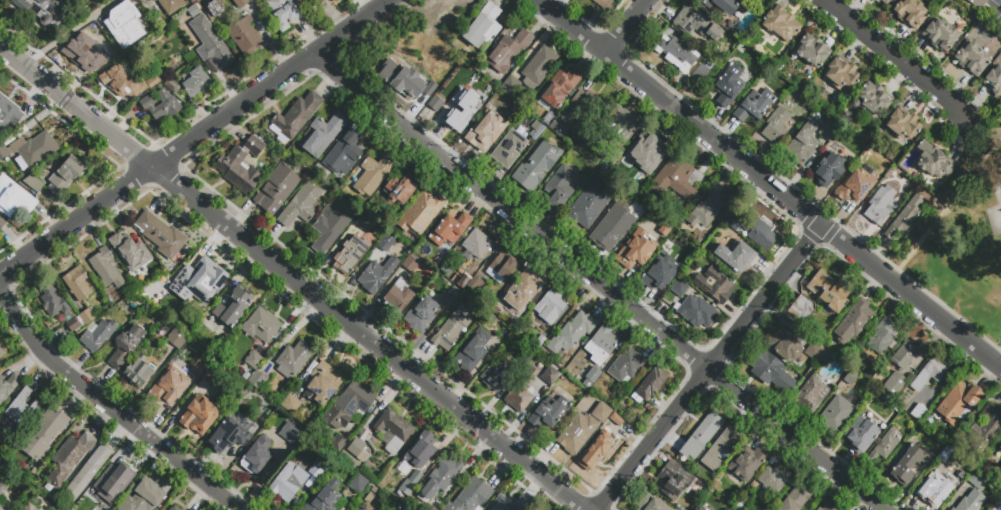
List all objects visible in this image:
building: (300, 0)
building: (744, 0)
building: (876, 1)
building: (882, 1)
building: (886, 2)
building: (240, 3)
building: (312, 4)
building: (602, 4)
building: (975, 4)
building: (170, 5)
building: (721, 5)
building: (34, 10)
building: (214, 10)
building: (283, 13)
building: (909, 13)
building: (781, 23)
building: (123, 24)
building: (696, 24)
building: (483, 26)
road: (626, 26)
road: (68, 33)
building: (939, 35)
building: (246, 37)
building: (210, 46)
building: (95, 48)
building: (508, 51)
building: (811, 52)
building: (677, 53)
building: (432, 54)
road: (898, 58)
building: (972, 59)
building: (538, 67)
building: (701, 72)
building: (757, 74)
building: (841, 75)
building: (402, 79)
building: (994, 81)
building: (195, 83)
building: (123, 85)
building: (171, 85)
building: (510, 86)
building: (560, 87)
building: (726, 87)
building: (781, 96)
building: (439, 98)
building: (873, 99)
building: (581, 102)
building: (160, 105)
building: (464, 105)
building: (754, 105)
building: (512, 108)
building: (9, 114)
building: (295, 118)
building: (548, 119)
building: (902, 125)
building: (775, 126)
building: (558, 127)
building: (484, 128)
building: (615, 128)
road: (983, 128)
building: (536, 130)
building: (827, 133)
building: (324, 134)
road: (195, 136)
building: (803, 143)
building: (858, 147)
building: (510, 148)
building: (33, 150)
building: (344, 153)
building: (3, 154)
building: (643, 156)
building: (614, 157)
building: (934, 161)
building: (241, 165)
building: (537, 165)
building: (828, 169)
building: (374, 174)
building: (64, 177)
building: (677, 180)
road: (769, 182)
building: (34, 184)
building: (854, 186)
building: (560, 187)
building: (277, 189)
building: (399, 190)
building: (14, 197)
building: (300, 205)
building: (587, 205)
building: (707, 206)
building: (879, 206)
road: (947, 208)
road: (986, 210)
building: (421, 213)
building: (377, 214)
park: (996, 214)
building: (904, 217)
building: (365, 224)
building: (2, 225)
building: (329, 227)
building: (613, 227)
building: (450, 230)
building: (761, 233)
building: (160, 235)
park: (963, 240)
building: (476, 244)
building: (130, 251)
building: (635, 251)
building: (350, 255)
building: (735, 256)
building: (413, 265)
building: (501, 267)
building: (106, 268)
building: (170, 269)
building: (160, 273)
building: (661, 273)
building: (377, 275)
building: (464, 275)
road: (291, 279)
building: (140, 281)
building: (198, 282)
building: (77, 283)
road: (598, 283)
building: (475, 285)
building: (714, 285)
building: (523, 290)
building: (419, 291)
building: (828, 292)
building: (398, 297)
building: (451, 297)
building: (52, 302)
building: (233, 306)
building: (550, 307)
building: (801, 309)
road: (951, 309)
building: (698, 310)
building: (420, 314)
building: (135, 315)
building: (86, 316)
building: (854, 321)
building: (73, 324)
building: (155, 324)
building: (261, 326)
building: (452, 330)
building: (572, 332)
building: (97, 335)
building: (882, 336)
building: (176, 339)
building: (500, 339)
building: (540, 344)
building: (601, 344)
building: (126, 345)
building: (783, 345)
building: (473, 351)
building: (813, 351)
building: (1, 352)
building: (905, 355)
building: (826, 356)
building: (526, 357)
building: (294, 358)
building: (253, 360)
building: (199, 367)
building: (626, 367)
road: (709, 367)
building: (138, 371)
building: (771, 371)
building: (239, 374)
building: (927, 374)
building: (592, 375)
building: (496, 376)
building: (549, 376)
building: (850, 377)
building: (258, 380)
building: (322, 382)
building: (894, 383)
building: (171, 385)
building: (649, 386)
building: (6, 387)
building: (222, 389)
building: (522, 393)
building: (812, 395)
building: (959, 403)
building: (290, 404)
building: (349, 405)
building: (21, 408)
building: (649, 409)
road: (110, 411)
building: (601, 412)
building: (918, 412)
building: (266, 414)
building: (548, 414)
building: (837, 414)
building: (199, 415)
building: (617, 424)
building: (985, 430)
building: (392, 431)
building: (292, 433)
building: (577, 433)
building: (44, 434)
building: (861, 434)
building: (228, 436)
building: (701, 436)
building: (337, 442)
building: (3, 446)
building: (884, 447)
building: (720, 449)
building: (357, 450)
building: (1000, 450)
building: (597, 451)
building: (11, 452)
building: (418, 453)
building: (257, 456)
building: (615, 456)
building: (69, 457)
building: (343, 458)
building: (746, 463)
building: (1000, 463)
building: (1000, 464)
building: (908, 465)
building: (316, 470)
building: (88, 471)
building: (416, 477)
building: (111, 479)
building: (440, 479)
building: (774, 479)
building: (979, 480)
building: (675, 481)
building: (288, 482)
building: (359, 486)
building: (724, 486)
building: (371, 487)
building: (939, 487)
building: (3, 490)
building: (405, 490)
building: (143, 496)
building: (470, 496)
building: (325, 497)
building: (372, 498)
building: (796, 498)
building: (970, 501)
building: (502, 504)
building: (650, 504)
building: (0, 507)
building: (30, 507)
building: (825, 507)
building: (175, 508)
building: (430, 508)
building: (0, 509)
building: (182, 509)
building: (354, 509)
building: (693, 509)
building: (696, 509)

